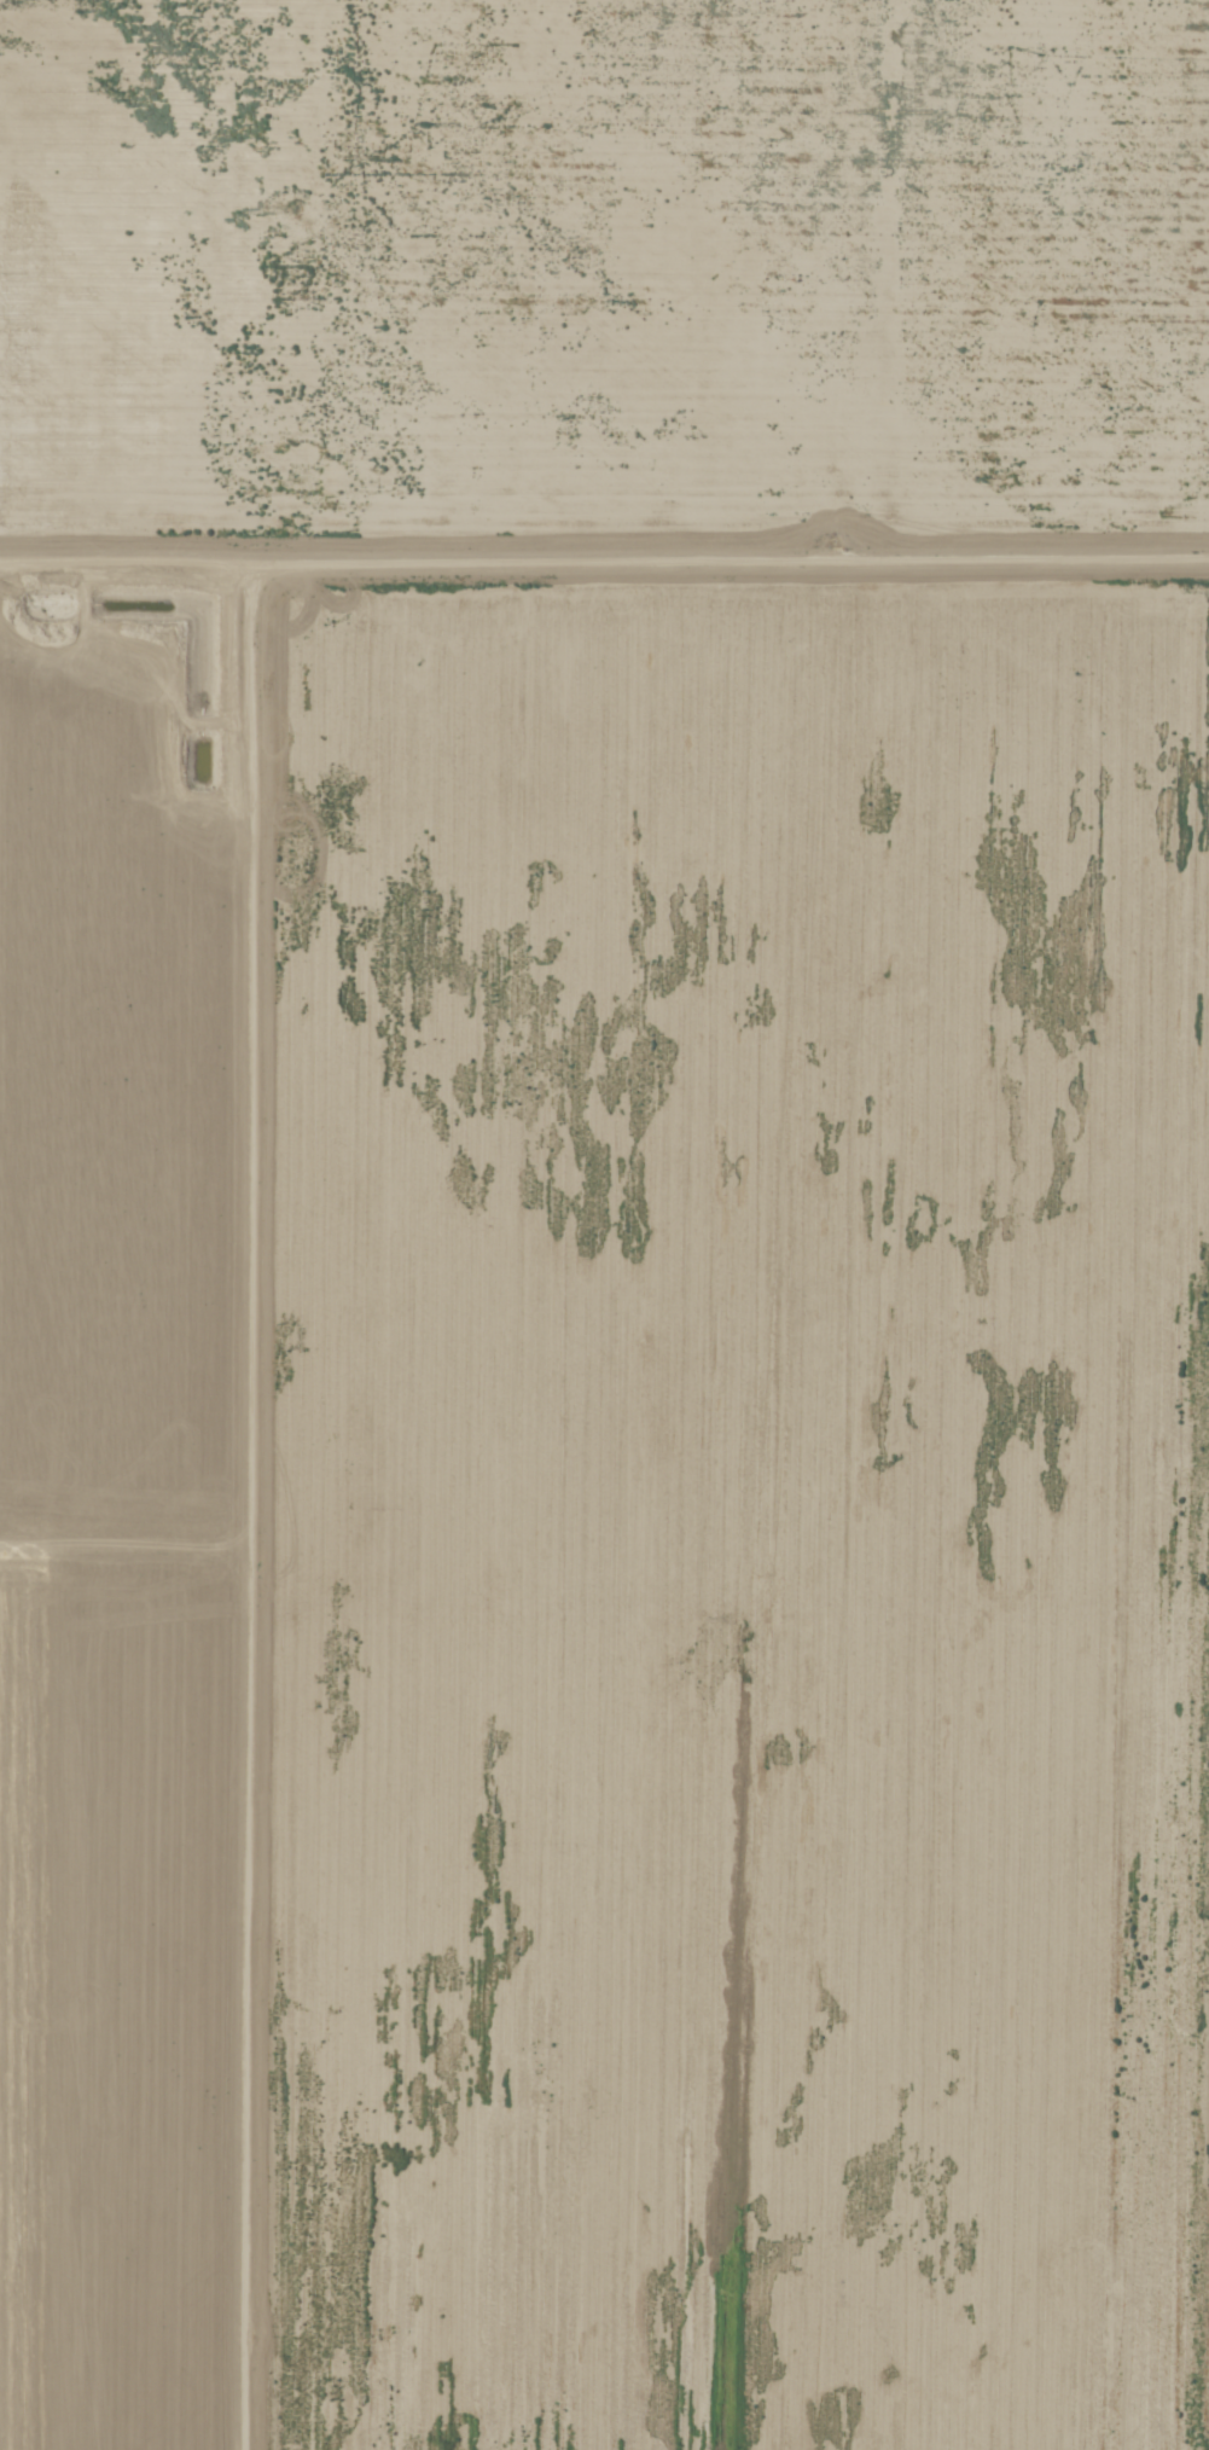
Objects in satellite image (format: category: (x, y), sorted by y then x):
road: (604, 562)
crop: (604, 1225)

